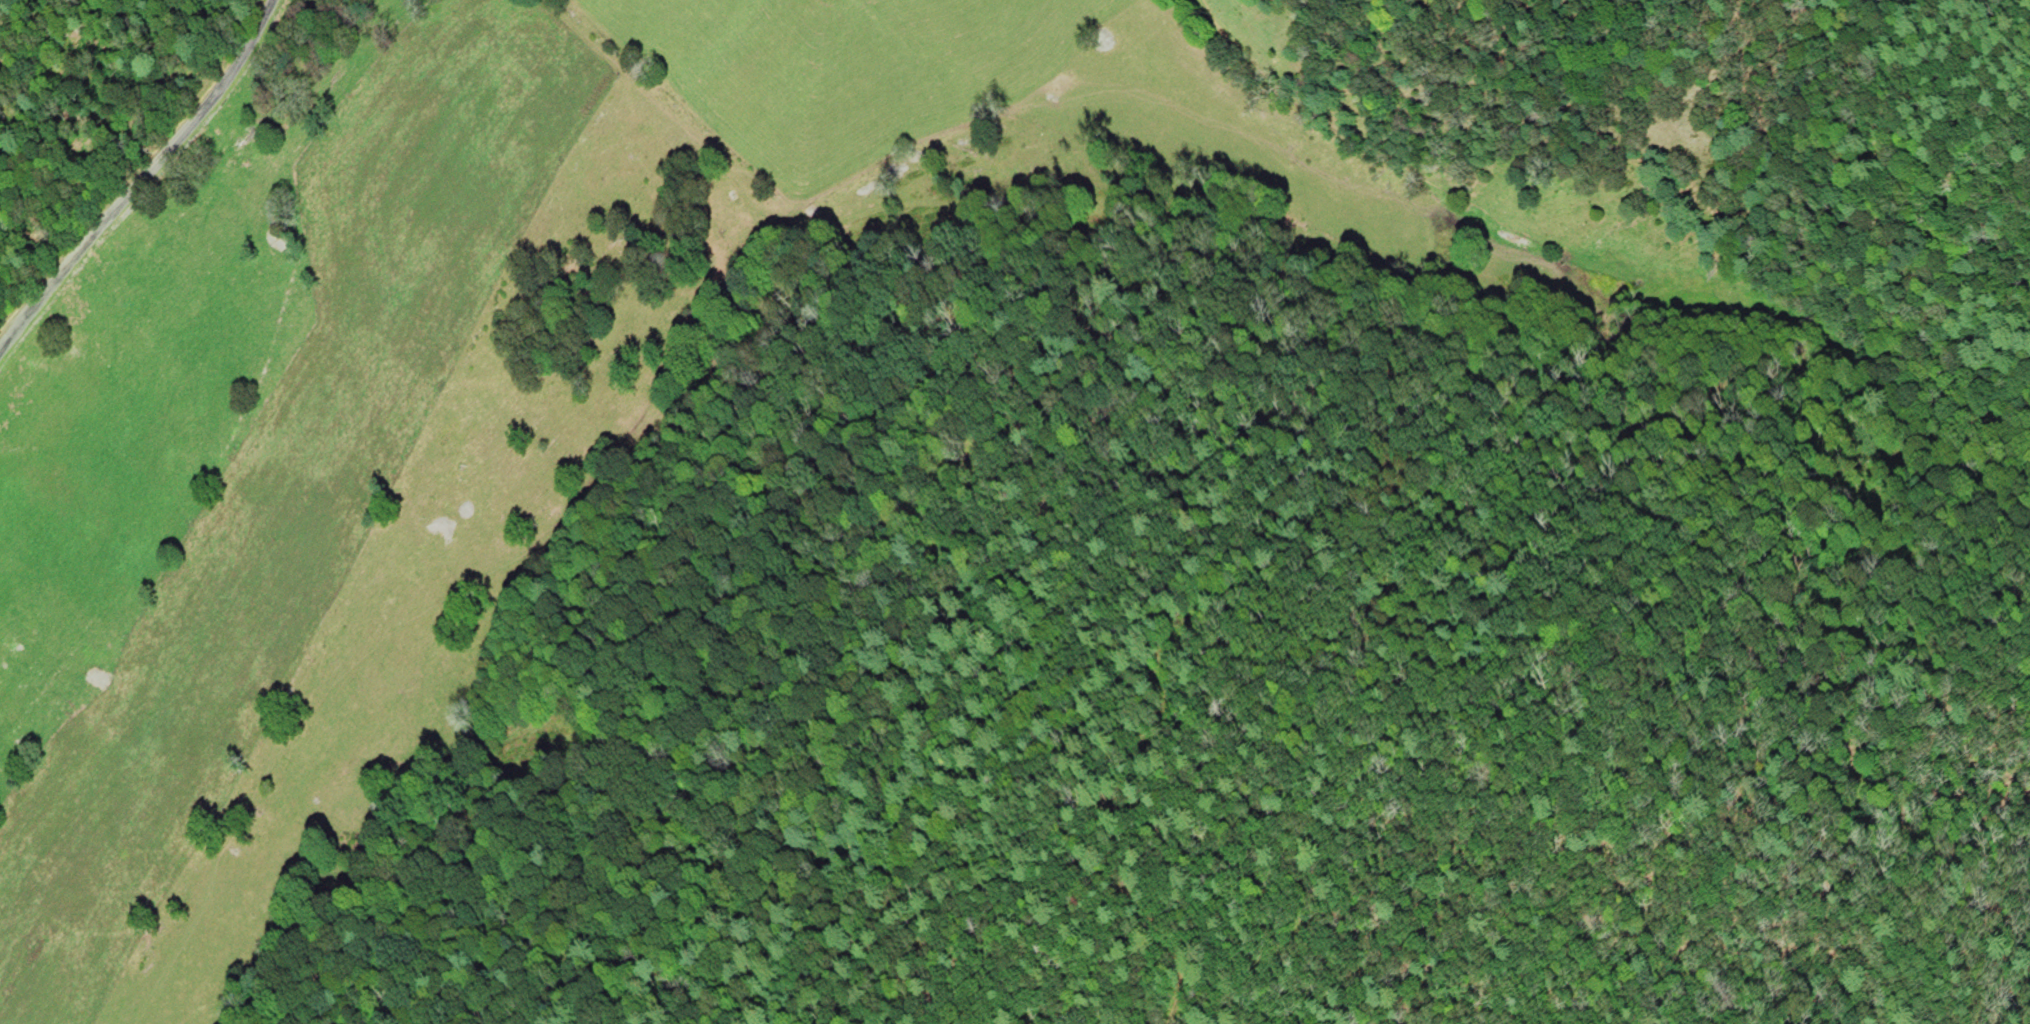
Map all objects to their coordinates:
road: (146, 187)

